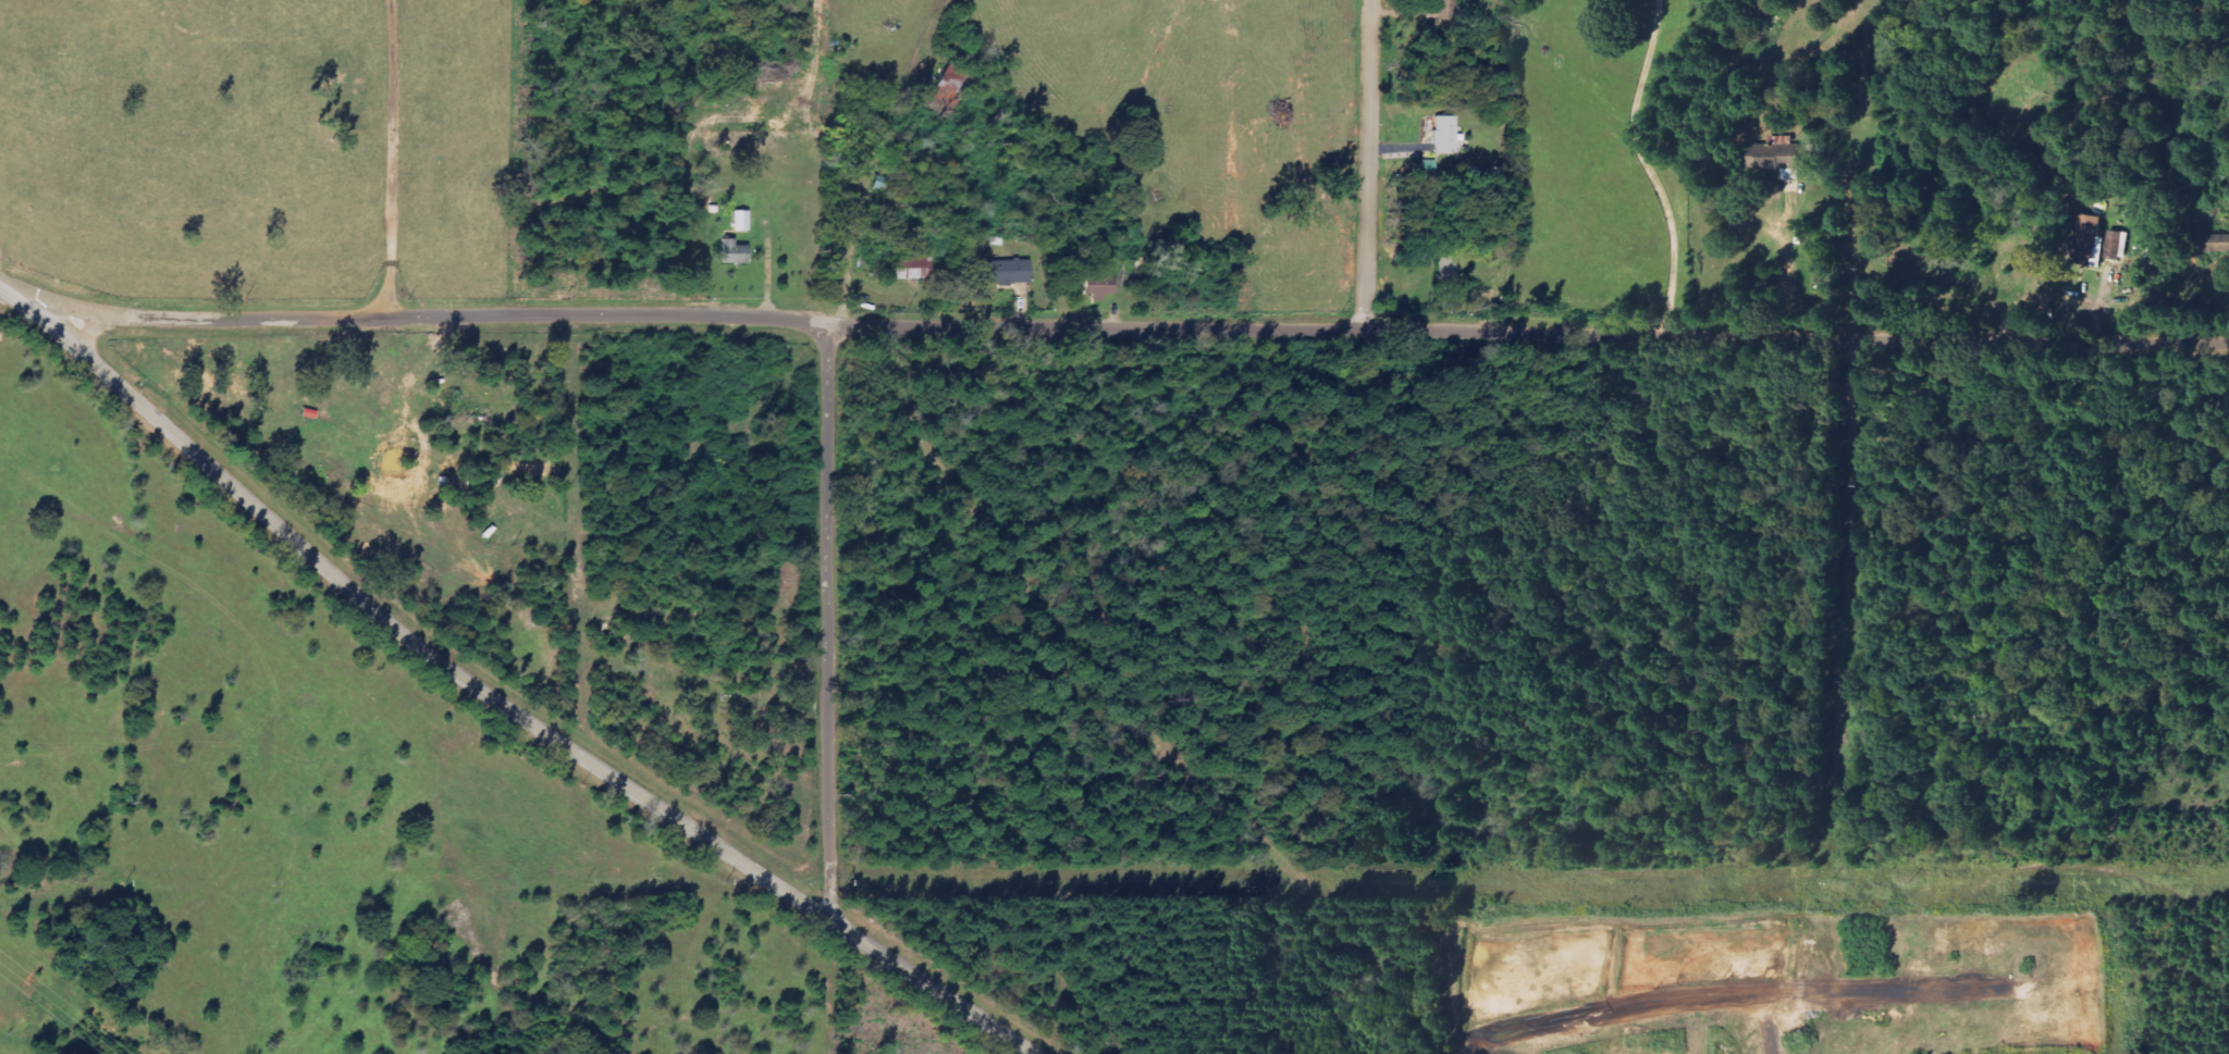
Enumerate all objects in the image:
building: (1443, 144)
building: (1779, 159)
road: (390, 160)
road: (1368, 165)
building: (741, 222)
building: (2102, 241)
building: (734, 253)
building: (913, 270)
building: (1003, 273)
building: (1099, 286)
road: (1134, 331)
road: (829, 624)
road: (494, 699)

